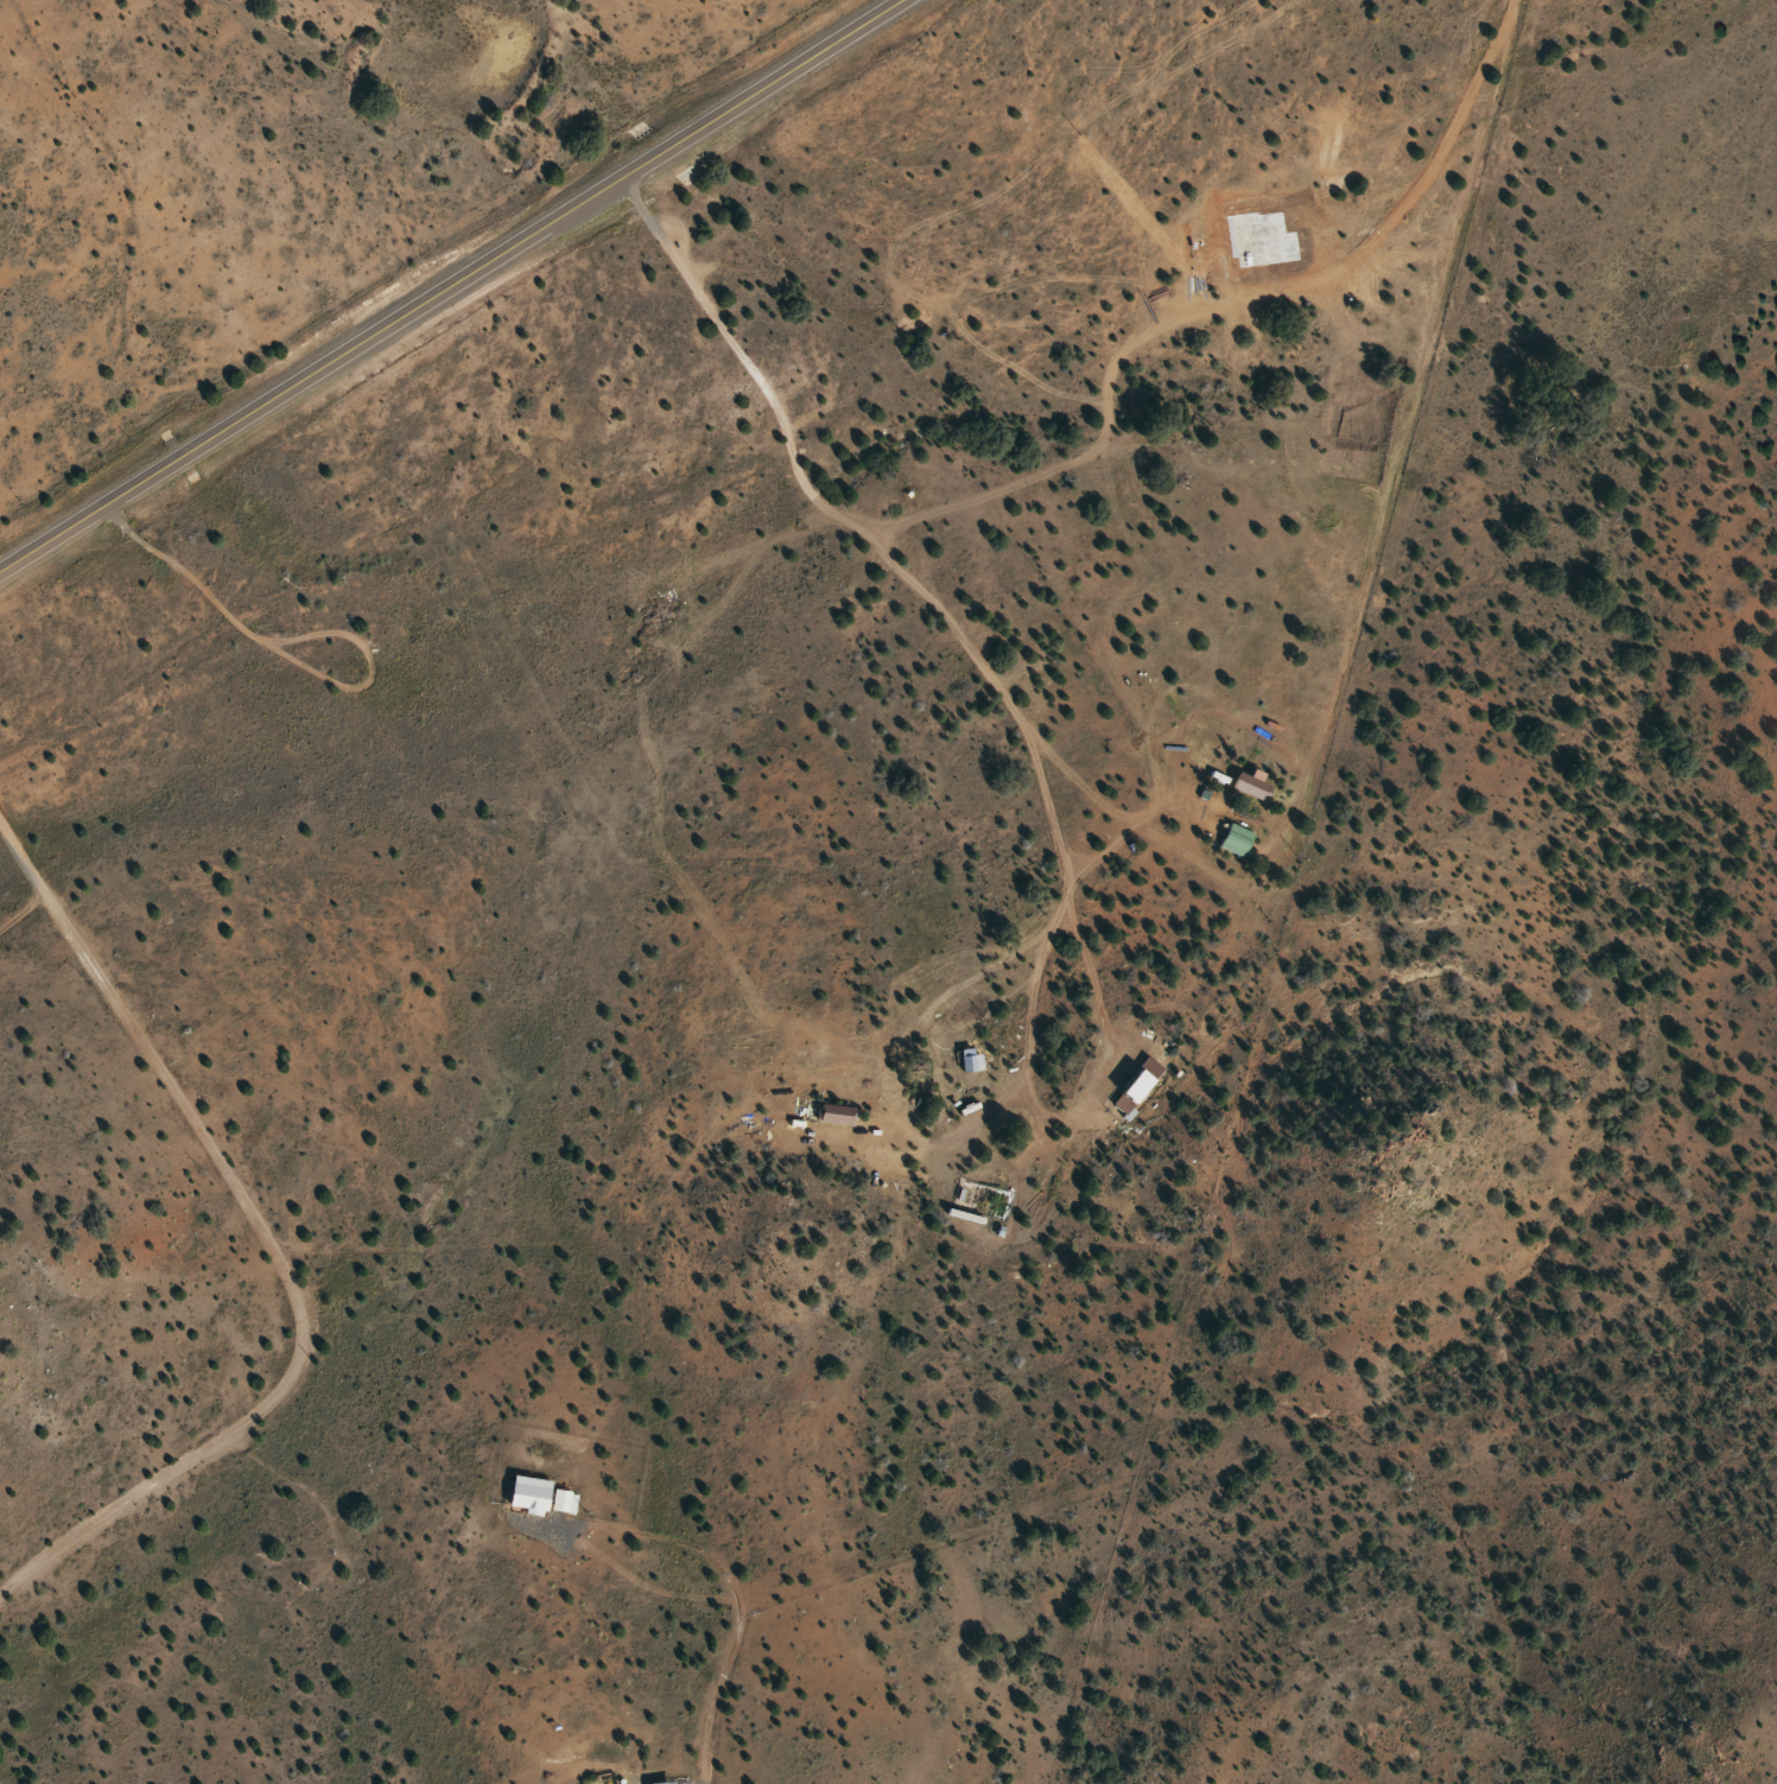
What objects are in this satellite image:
road: (450, 285)
road: (1045, 667)
building: (1246, 788)
building: (1236, 839)
building: (1134, 1085)
road: (271, 1238)

